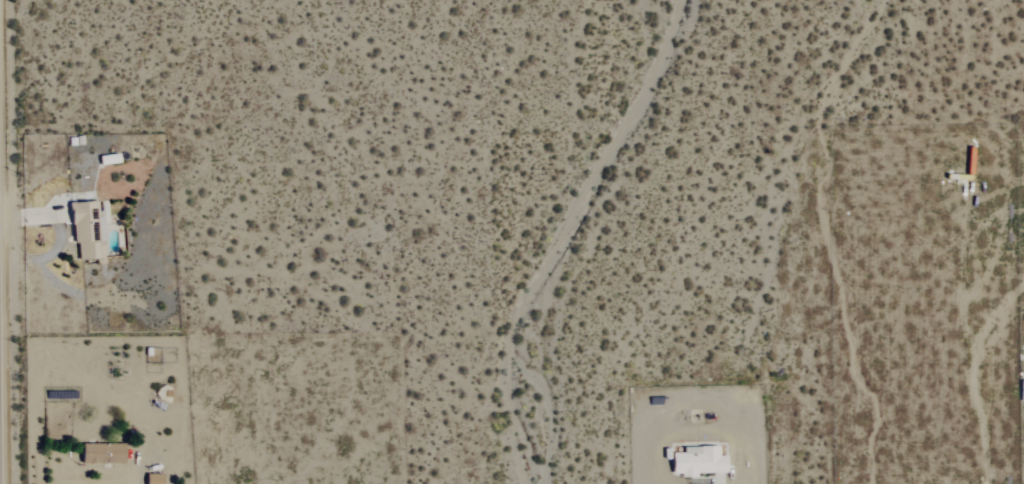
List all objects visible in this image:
building: (86, 229)
road: (6, 242)
building: (100, 453)
building: (697, 461)

